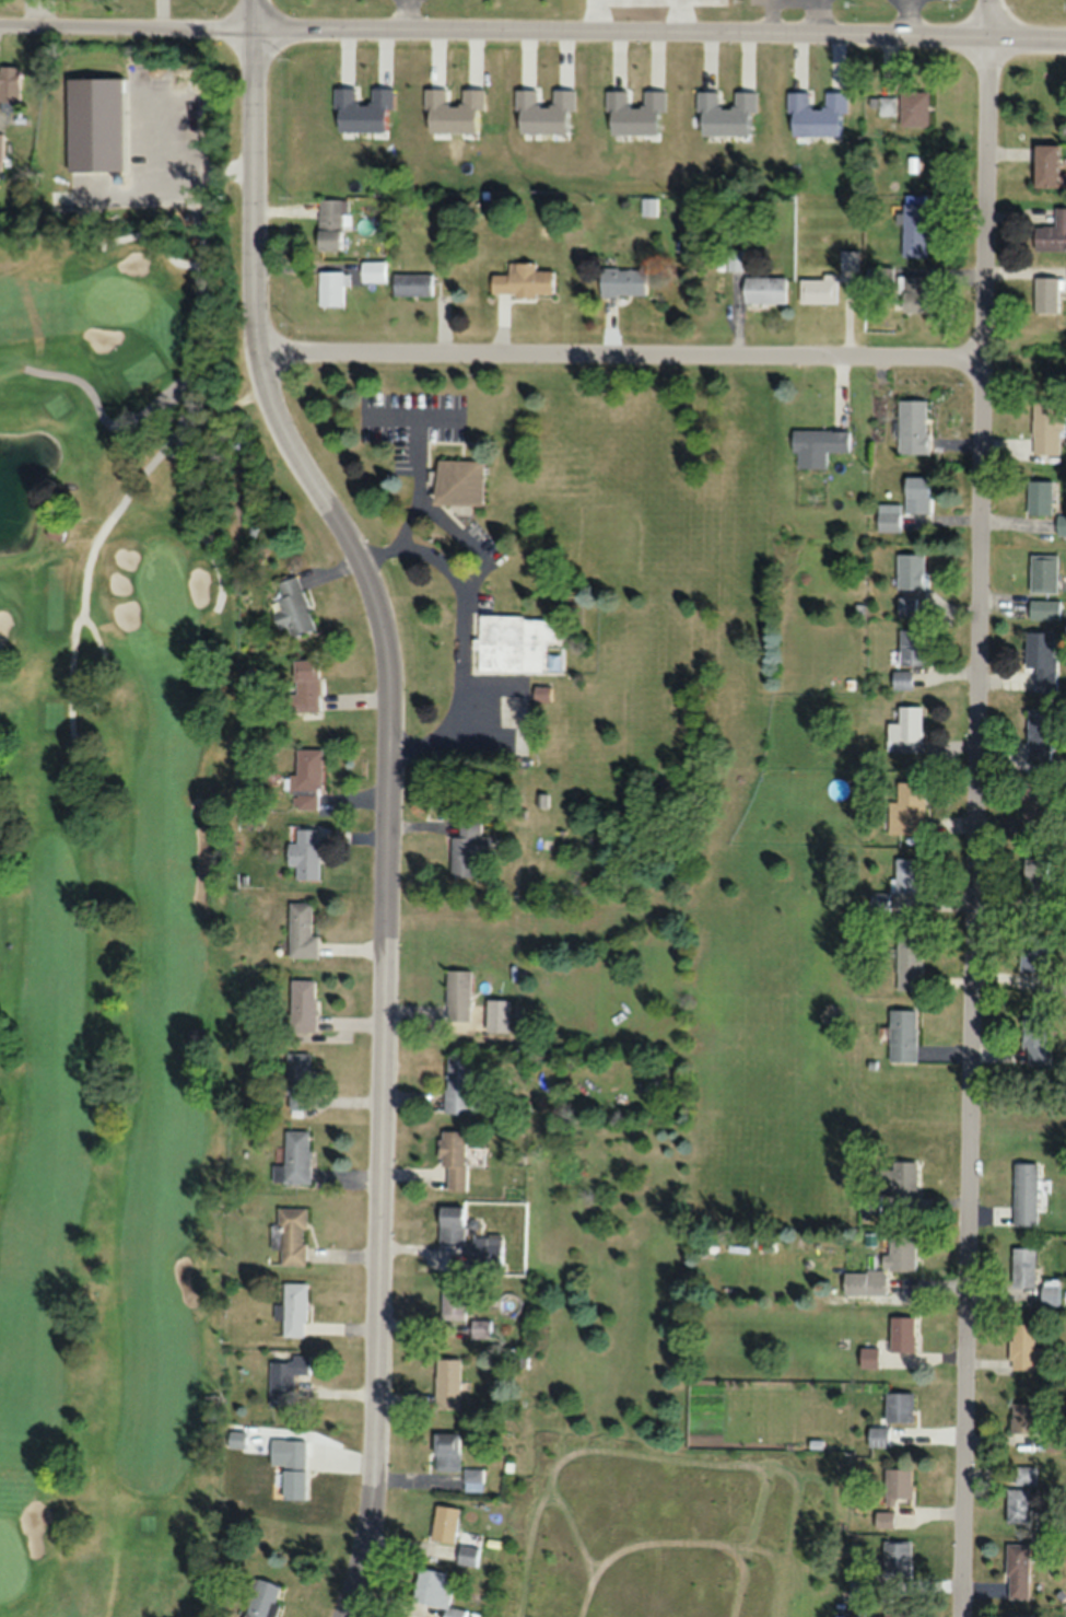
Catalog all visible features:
road: (126, 22)
road: (658, 31)
building: (9, 82)
building: (903, 107)
building: (97, 109)
building: (1, 151)
building: (1043, 164)
building: (647, 207)
building: (330, 223)
building: (914, 224)
building: (1052, 232)
building: (848, 258)
building: (372, 270)
building: (520, 280)
building: (621, 281)
building: (411, 283)
building: (330, 288)
building: (817, 288)
building: (762, 289)
building: (914, 292)
building: (1044, 293)
park: (119, 302)
road: (661, 352)
building: (911, 426)
building: (1045, 427)
building: (816, 445)
building: (442, 473)
building: (916, 493)
building: (1038, 497)
building: (887, 517)
building: (1061, 524)
road: (78, 566)
building: (909, 570)
building: (1042, 572)
park: (164, 588)
building: (905, 606)
building: (293, 607)
building: (1043, 609)
building: (515, 643)
building: (911, 647)
building: (1039, 660)
building: (900, 679)
building: (307, 686)
building: (540, 693)
building: (905, 730)
building: (1038, 732)
road: (470, 755)
building: (307, 778)
road: (388, 795)
building: (905, 806)
building: (1035, 807)
road: (976, 809)
building: (467, 847)
building: (305, 852)
building: (905, 874)
building: (1036, 884)
park: (112, 888)
building: (878, 900)
building: (302, 930)
building: (907, 951)
building: (1031, 952)
building: (459, 981)
building: (500, 1003)
building: (303, 1005)
building: (901, 1035)
building: (1034, 1036)
building: (300, 1081)
building: (460, 1085)
road: (1008, 1142)
building: (295, 1158)
building: (454, 1160)
building: (890, 1183)
building: (1023, 1193)
building: (450, 1222)
building: (293, 1235)
building: (485, 1250)
road: (541, 1250)
building: (898, 1260)
building: (1021, 1267)
building: (1049, 1291)
building: (453, 1299)
building: (294, 1310)
road: (534, 1314)
building: (480, 1328)
building: (900, 1333)
building: (1023, 1348)
building: (868, 1354)
building: (285, 1377)
building: (447, 1384)
building: (898, 1407)
building: (1022, 1418)
building: (877, 1435)
building: (1054, 1441)
building: (446, 1451)
building: (293, 1475)
building: (1023, 1475)
building: (472, 1477)
building: (897, 1485)
building: (1017, 1505)
building: (883, 1519)
building: (444, 1524)
building: (467, 1555)
park: (10, 1558)
building: (894, 1558)
building: (1016, 1570)
building: (860, 1586)
building: (434, 1592)
building: (261, 1598)
building: (895, 1614)
building: (1018, 1615)

